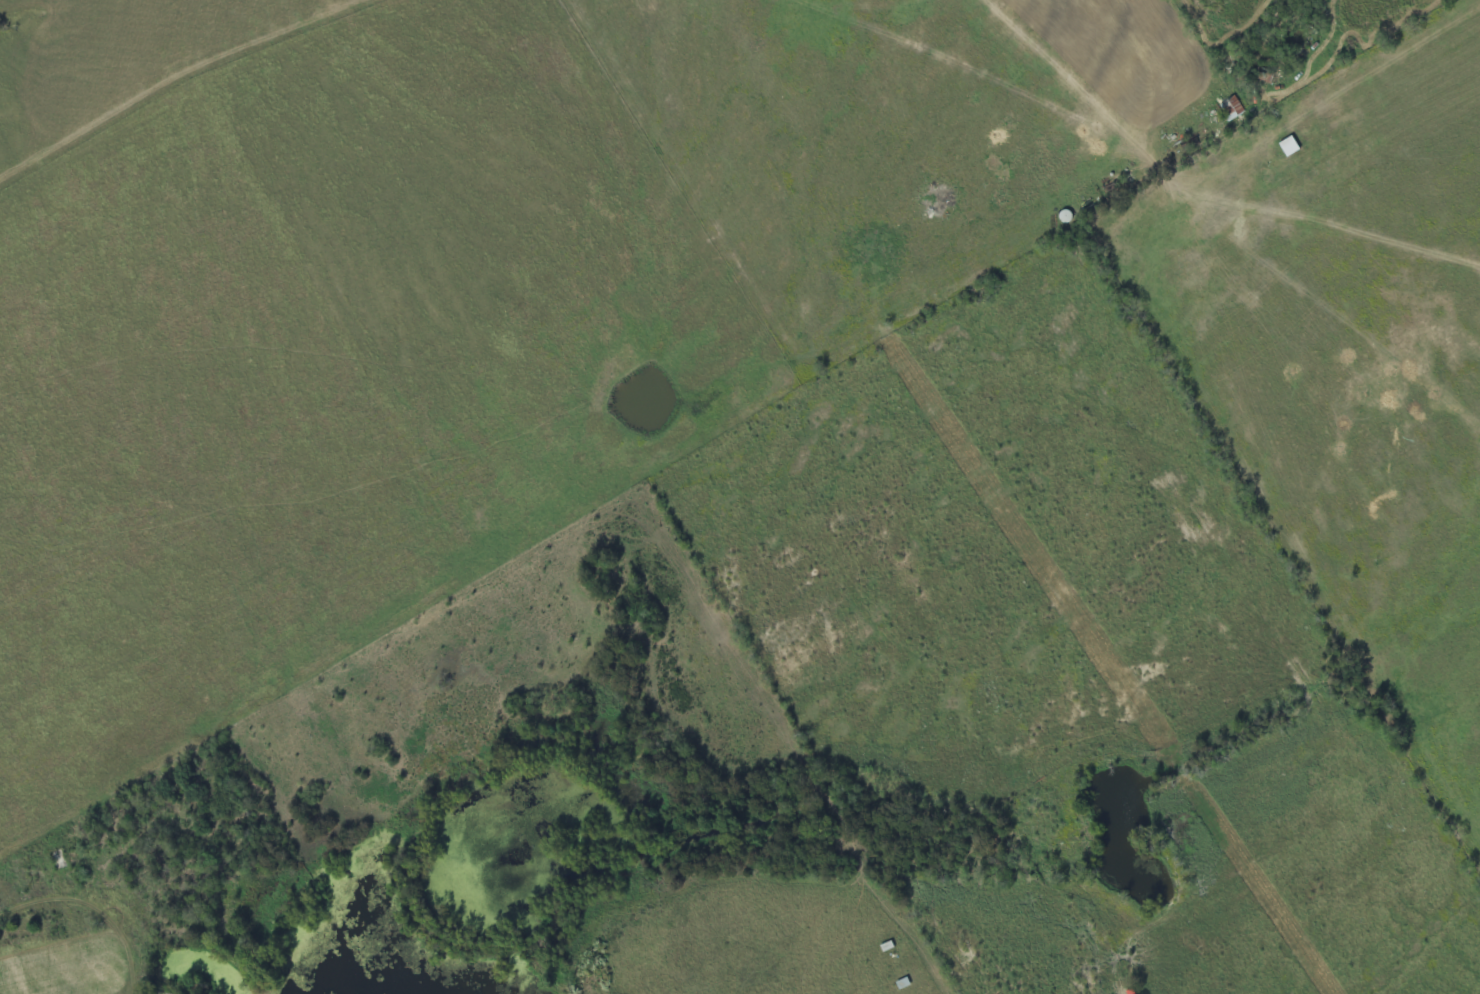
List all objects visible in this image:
building: (1264, 75)
building: (1229, 109)
building: (1289, 147)

